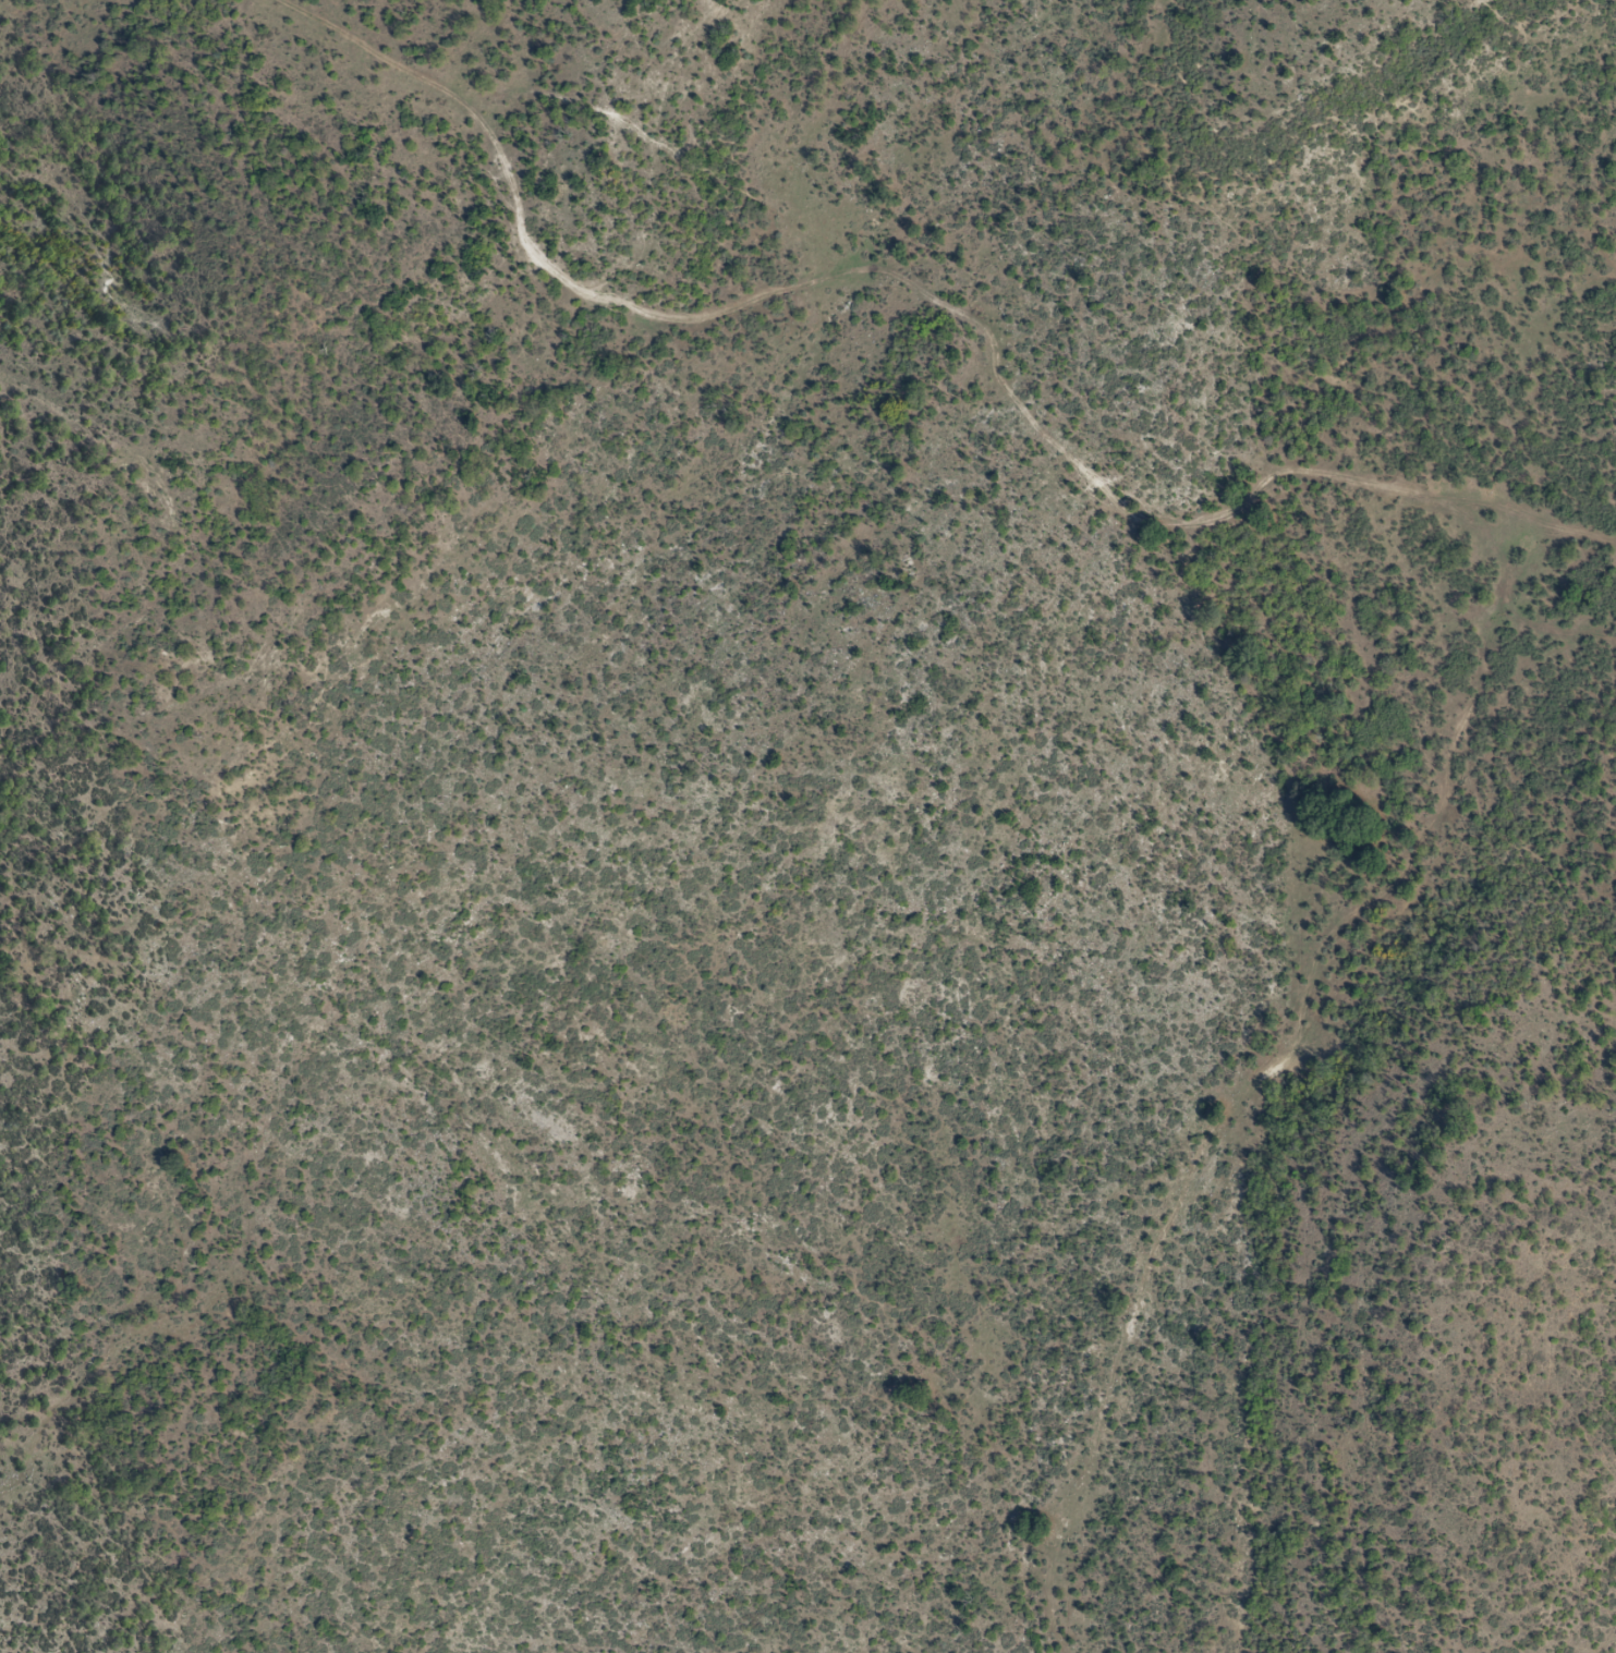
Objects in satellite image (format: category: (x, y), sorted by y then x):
road: (10, 0)
road: (938, 299)

